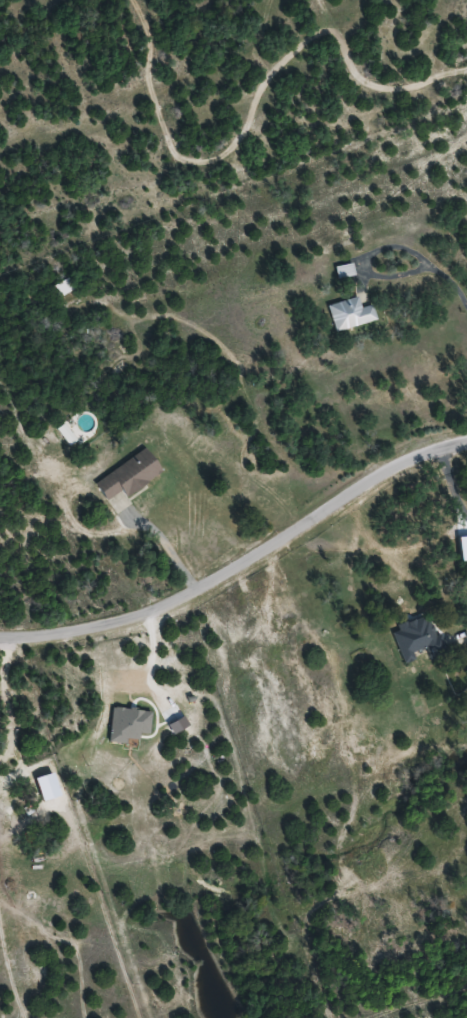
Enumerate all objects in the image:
building: (343, 271)
building: (62, 287)
building: (348, 313)
building: (126, 475)
road: (169, 537)
road: (243, 561)
building: (415, 639)

